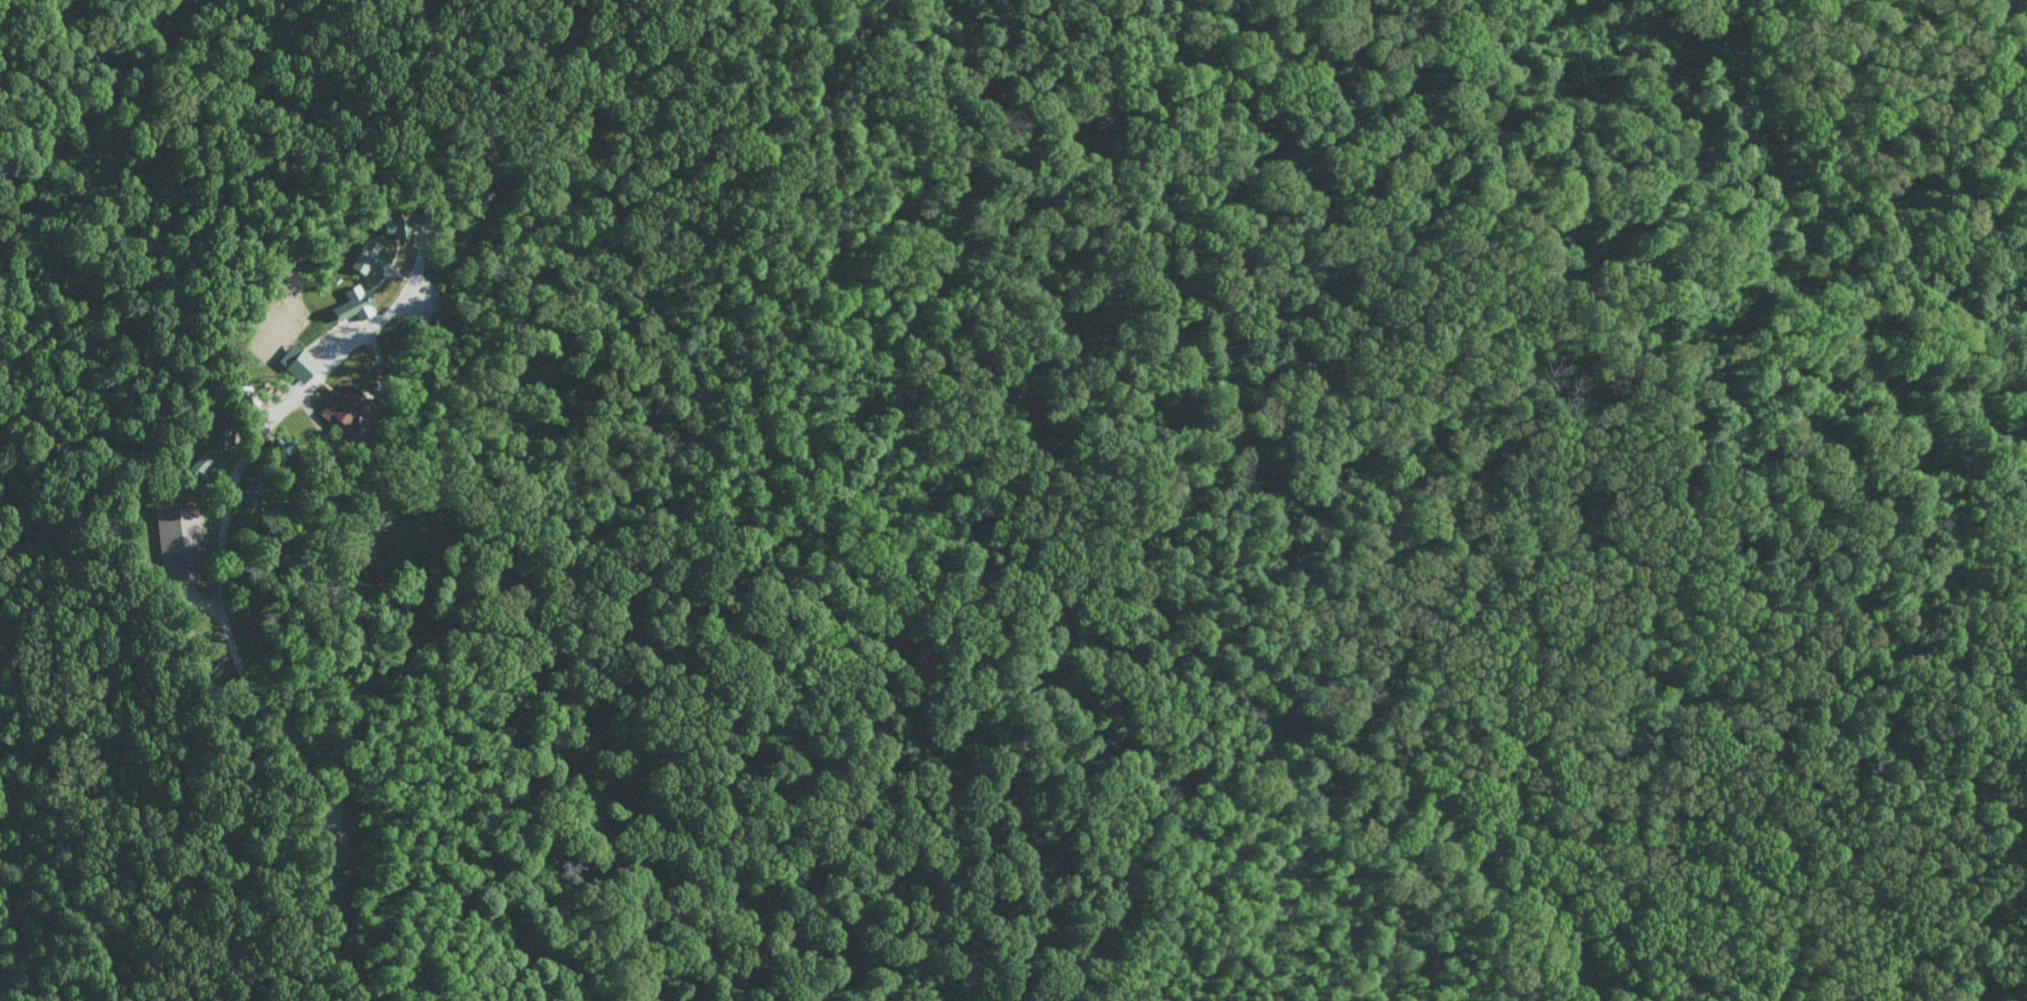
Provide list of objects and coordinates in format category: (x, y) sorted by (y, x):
building: (367, 255)
building: (356, 304)
building: (299, 362)
building: (223, 434)
road: (265, 437)
building: (181, 544)

